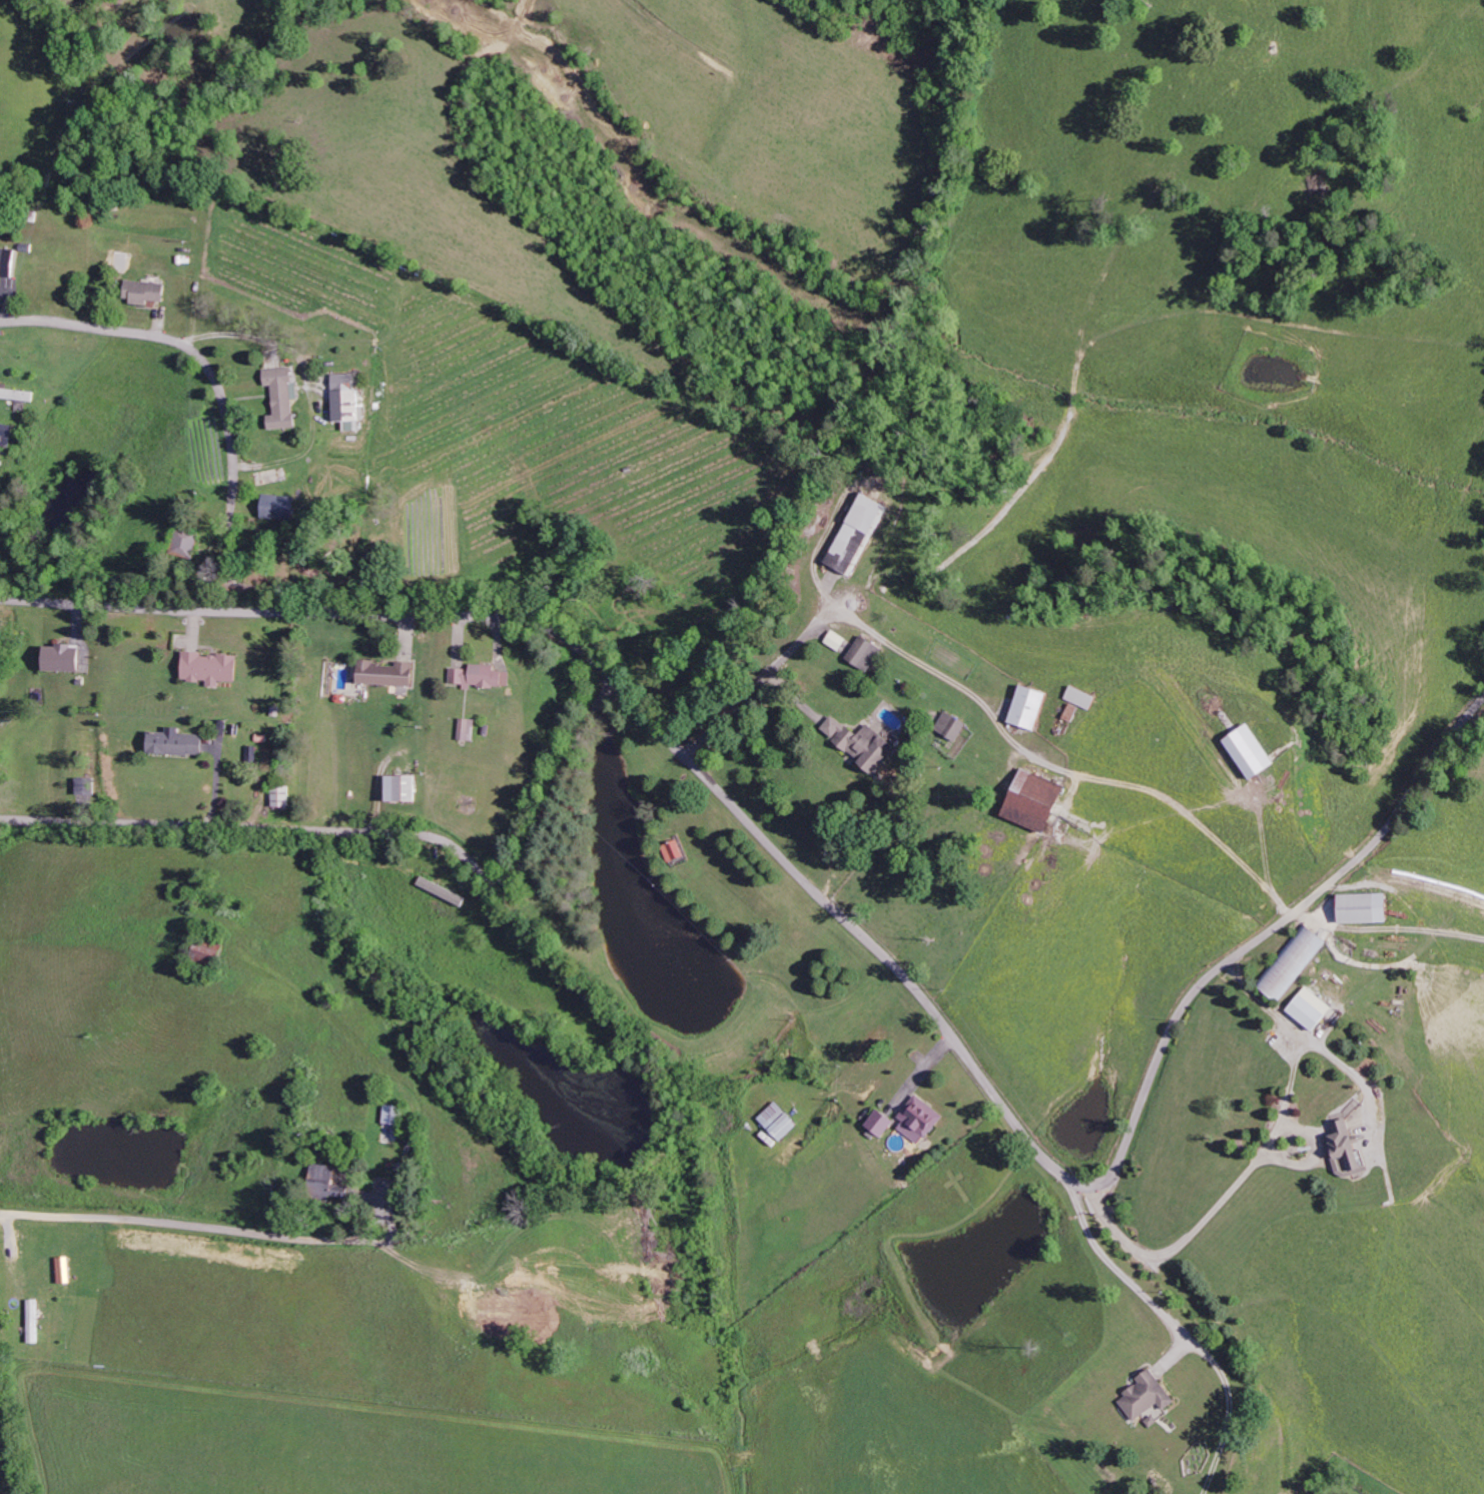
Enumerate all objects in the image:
building: (8, 262)
building: (147, 291)
road: (213, 378)
building: (18, 394)
building: (284, 396)
building: (349, 400)
building: (7, 434)
building: (283, 506)
building: (861, 533)
building: (188, 543)
building: (868, 652)
building: (65, 657)
building: (212, 667)
building: (390, 673)
building: (480, 676)
building: (1033, 706)
building: (954, 725)
building: (467, 729)
building: (178, 742)
building: (865, 743)
building: (1255, 751)
building: (85, 786)
building: (405, 787)
building: (284, 796)
building: (1040, 801)
road: (374, 836)
building: (677, 851)
building: (1369, 907)
road: (858, 931)
building: (1296, 961)
building: (1314, 1009)
building: (397, 1114)
building: (922, 1119)
building: (782, 1120)
building: (1350, 1145)
road: (1253, 1164)
building: (331, 1183)
road: (181, 1221)
building: (64, 1270)
building: (35, 1315)
building: (1148, 1396)

